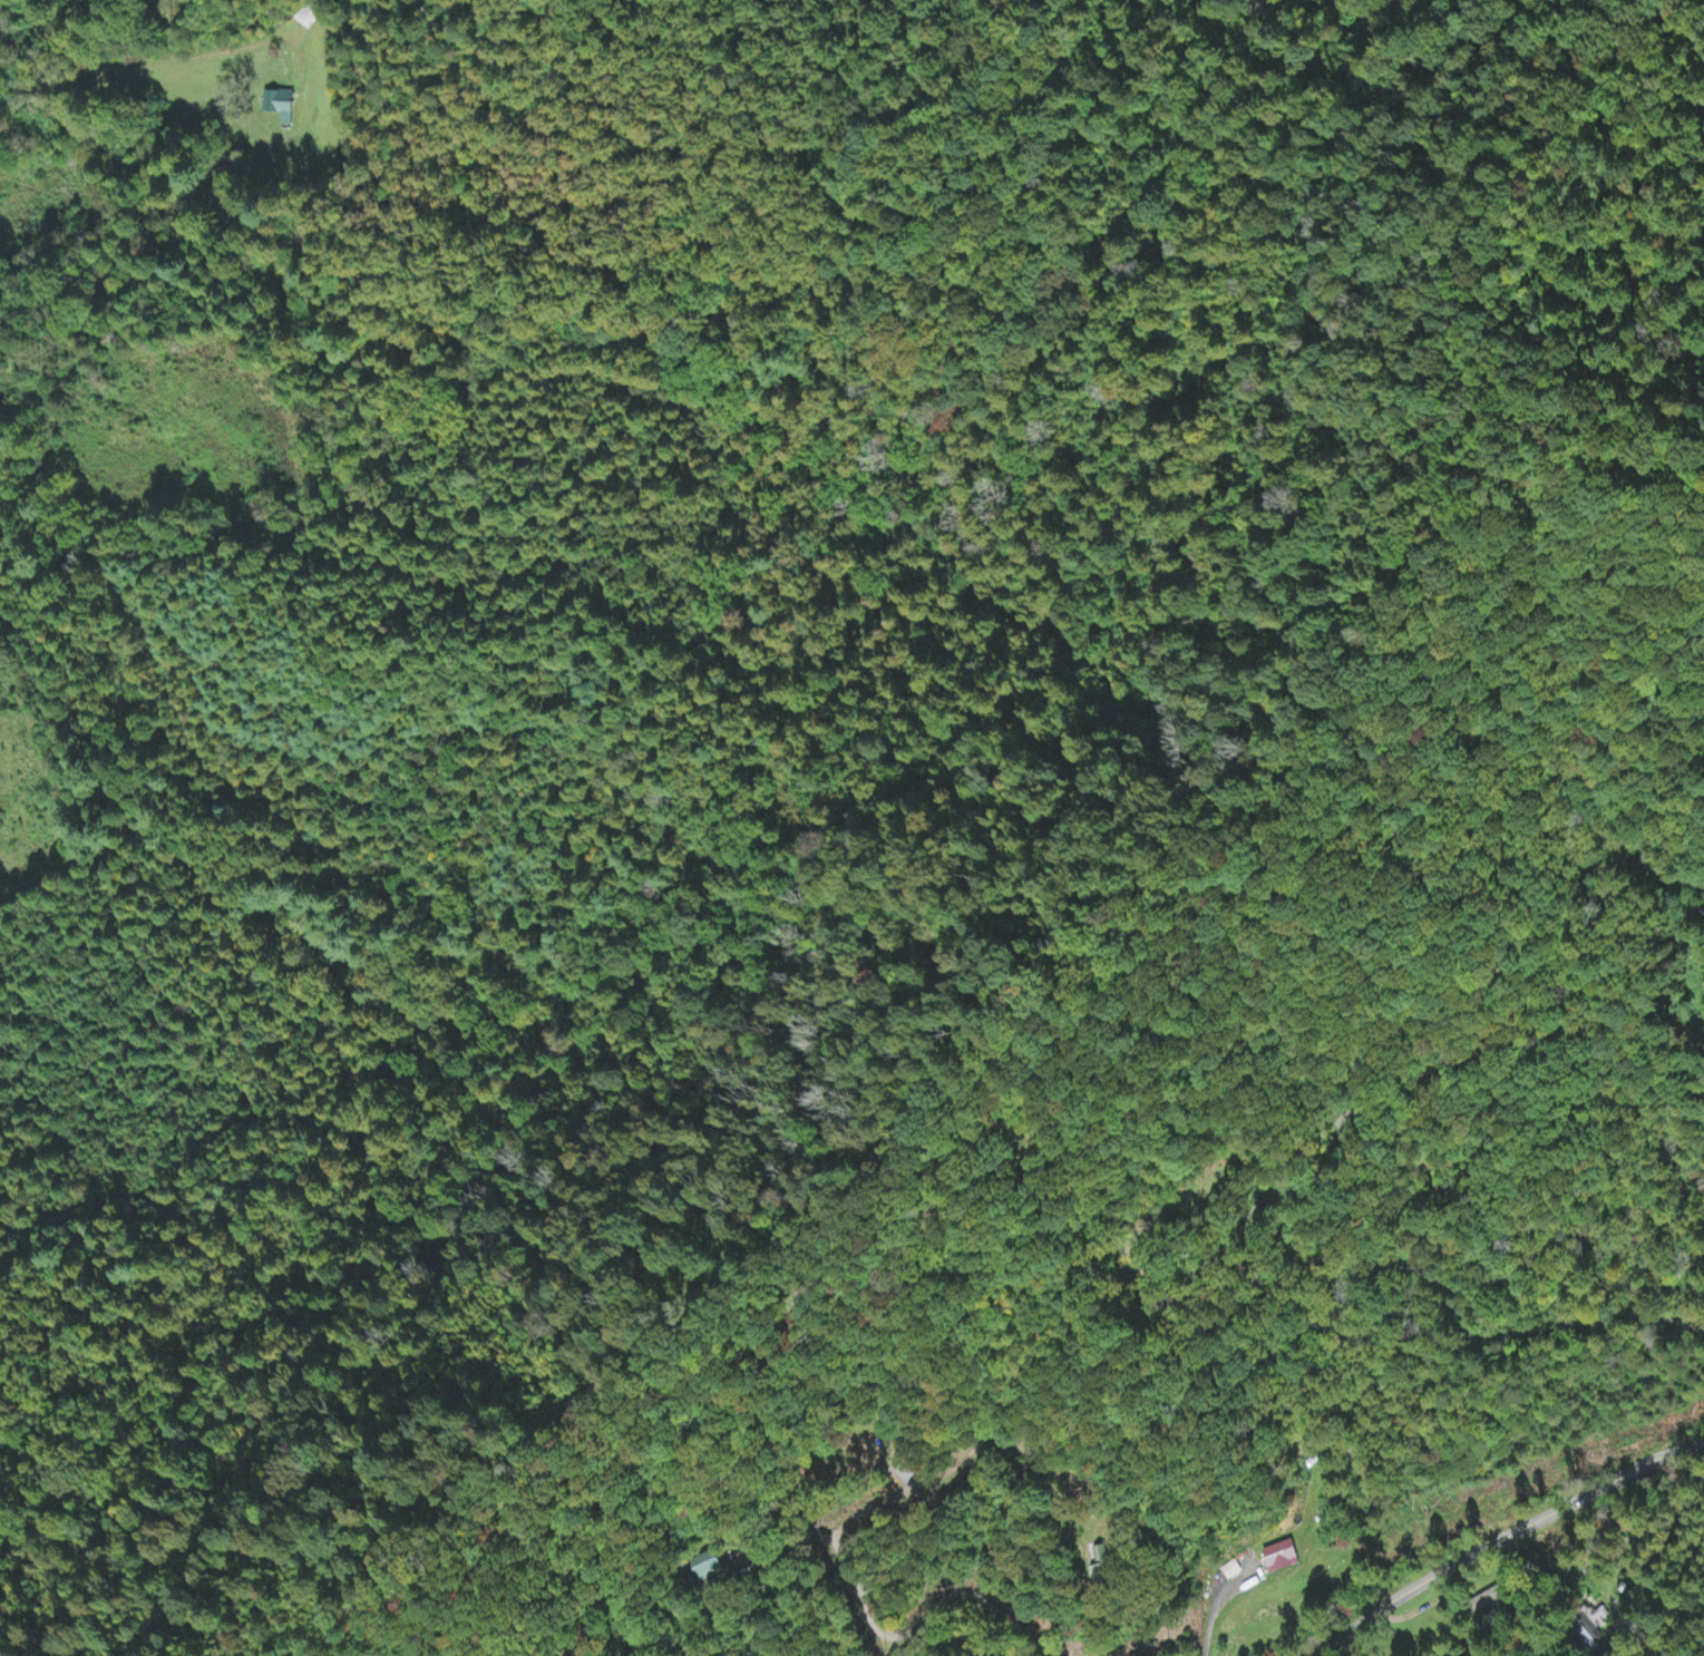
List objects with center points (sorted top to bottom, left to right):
building: (281, 107)
road: (1507, 1536)
road: (839, 1551)
road: (1662, 1556)
building: (1284, 1559)
building: (708, 1567)
building: (1102, 1567)

